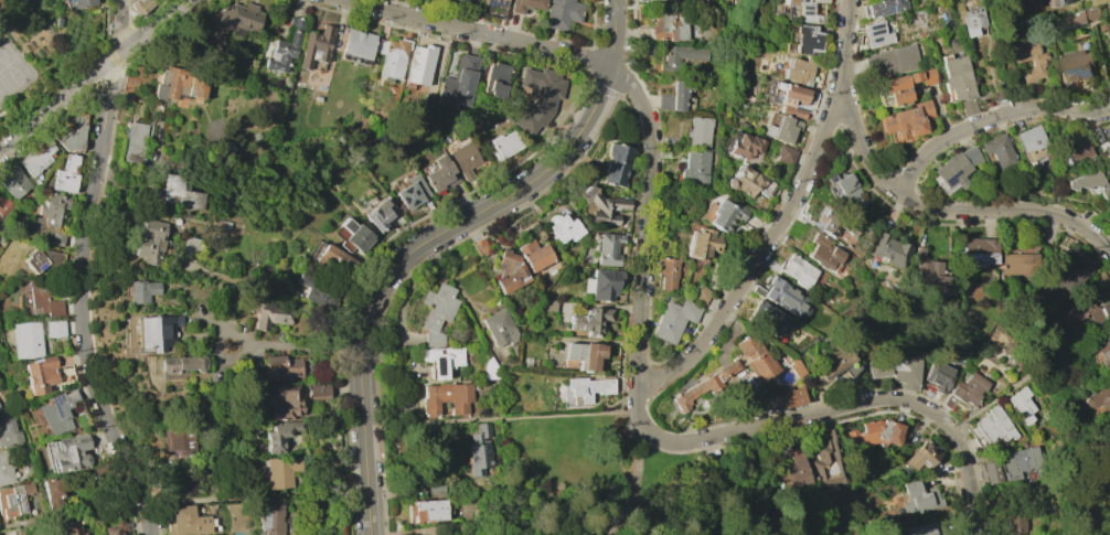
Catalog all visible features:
building: (1013, 0)
building: (82, 2)
building: (459, 2)
building: (1055, 2)
building: (495, 3)
building: (525, 4)
building: (141, 6)
building: (1109, 6)
building: (885, 7)
building: (805, 10)
building: (562, 13)
building: (1080, 18)
building: (972, 20)
building: (232, 21)
building: (1109, 24)
building: (668, 26)
building: (706, 29)
road: (478, 32)
building: (876, 33)
building: (807, 39)
building: (356, 43)
building: (316, 46)
building: (285, 47)
building: (392, 55)
building: (681, 56)
building: (893, 62)
building: (420, 64)
building: (1029, 64)
building: (1075, 66)
park: (11, 67)
building: (800, 69)
road: (92, 74)
building: (956, 77)
building: (497, 79)
building: (178, 83)
building: (458, 83)
building: (130, 84)
building: (905, 85)
park: (2, 90)
building: (675, 96)
building: (538, 98)
building: (785, 103)
building: (967, 106)
road: (989, 119)
building: (906, 122)
building: (781, 129)
building: (698, 131)
building: (70, 132)
building: (1093, 135)
building: (1107, 136)
building: (135, 141)
building: (504, 145)
building: (744, 145)
building: (1031, 147)
building: (997, 151)
building: (1071, 151)
building: (783, 154)
building: (1108, 156)
building: (463, 157)
building: (38, 158)
building: (617, 164)
building: (695, 169)
building: (953, 169)
building: (66, 174)
building: (439, 175)
building: (14, 181)
building: (748, 182)
building: (1089, 183)
building: (410, 192)
building: (842, 192)
building: (171, 194)
building: (601, 205)
building: (6, 208)
building: (51, 211)
road: (951, 211)
building: (378, 214)
building: (725, 215)
road: (786, 217)
building: (831, 223)
building: (563, 227)
building: (355, 235)
building: (56, 238)
road: (430, 238)
building: (150, 240)
building: (702, 243)
building: (608, 249)
building: (887, 250)
building: (976, 250)
building: (822, 253)
building: (534, 255)
building: (42, 259)
building: (332, 259)
building: (1020, 261)
building: (796, 270)
road: (84, 271)
building: (509, 271)
building: (668, 271)
building: (925, 272)
building: (1072, 276)
building: (602, 285)
building: (317, 289)
building: (140, 290)
building: (701, 295)
building: (41, 298)
building: (785, 298)
building: (548, 304)
building: (1084, 311)
building: (436, 313)
building: (270, 314)
building: (769, 319)
building: (590, 320)
building: (674, 320)
building: (499, 328)
building: (54, 329)
building: (153, 332)
building: (26, 340)
road: (295, 345)
building: (1104, 352)
building: (585, 356)
building: (444, 361)
building: (835, 361)
building: (179, 365)
building: (281, 367)
building: (796, 367)
building: (878, 367)
building: (490, 370)
building: (729, 371)
building: (906, 372)
building: (40, 374)
building: (939, 375)
road: (1027, 376)
building: (588, 389)
building: (965, 389)
building: (318, 390)
building: (794, 396)
building: (447, 397)
building: (1099, 398)
building: (285, 402)
building: (1022, 405)
building: (57, 413)
road: (500, 419)
building: (992, 426)
building: (8, 430)
building: (874, 434)
building: (280, 436)
building: (179, 438)
road: (670, 442)
building: (479, 450)
building: (67, 451)
building: (921, 456)
building: (1022, 462)
building: (828, 463)
building: (6, 468)
building: (281, 471)
building: (990, 471)
building: (792, 472)
road: (636, 482)
park: (610, 483)
building: (53, 493)
road: (263, 497)
building: (919, 497)
building: (13, 501)
building: (427, 511)
building: (469, 513)
park: (1100, 513)
building: (273, 516)
building: (185, 522)
building: (1013, 524)
road: (6, 526)
building: (70, 527)
building: (114, 529)
building: (925, 529)

